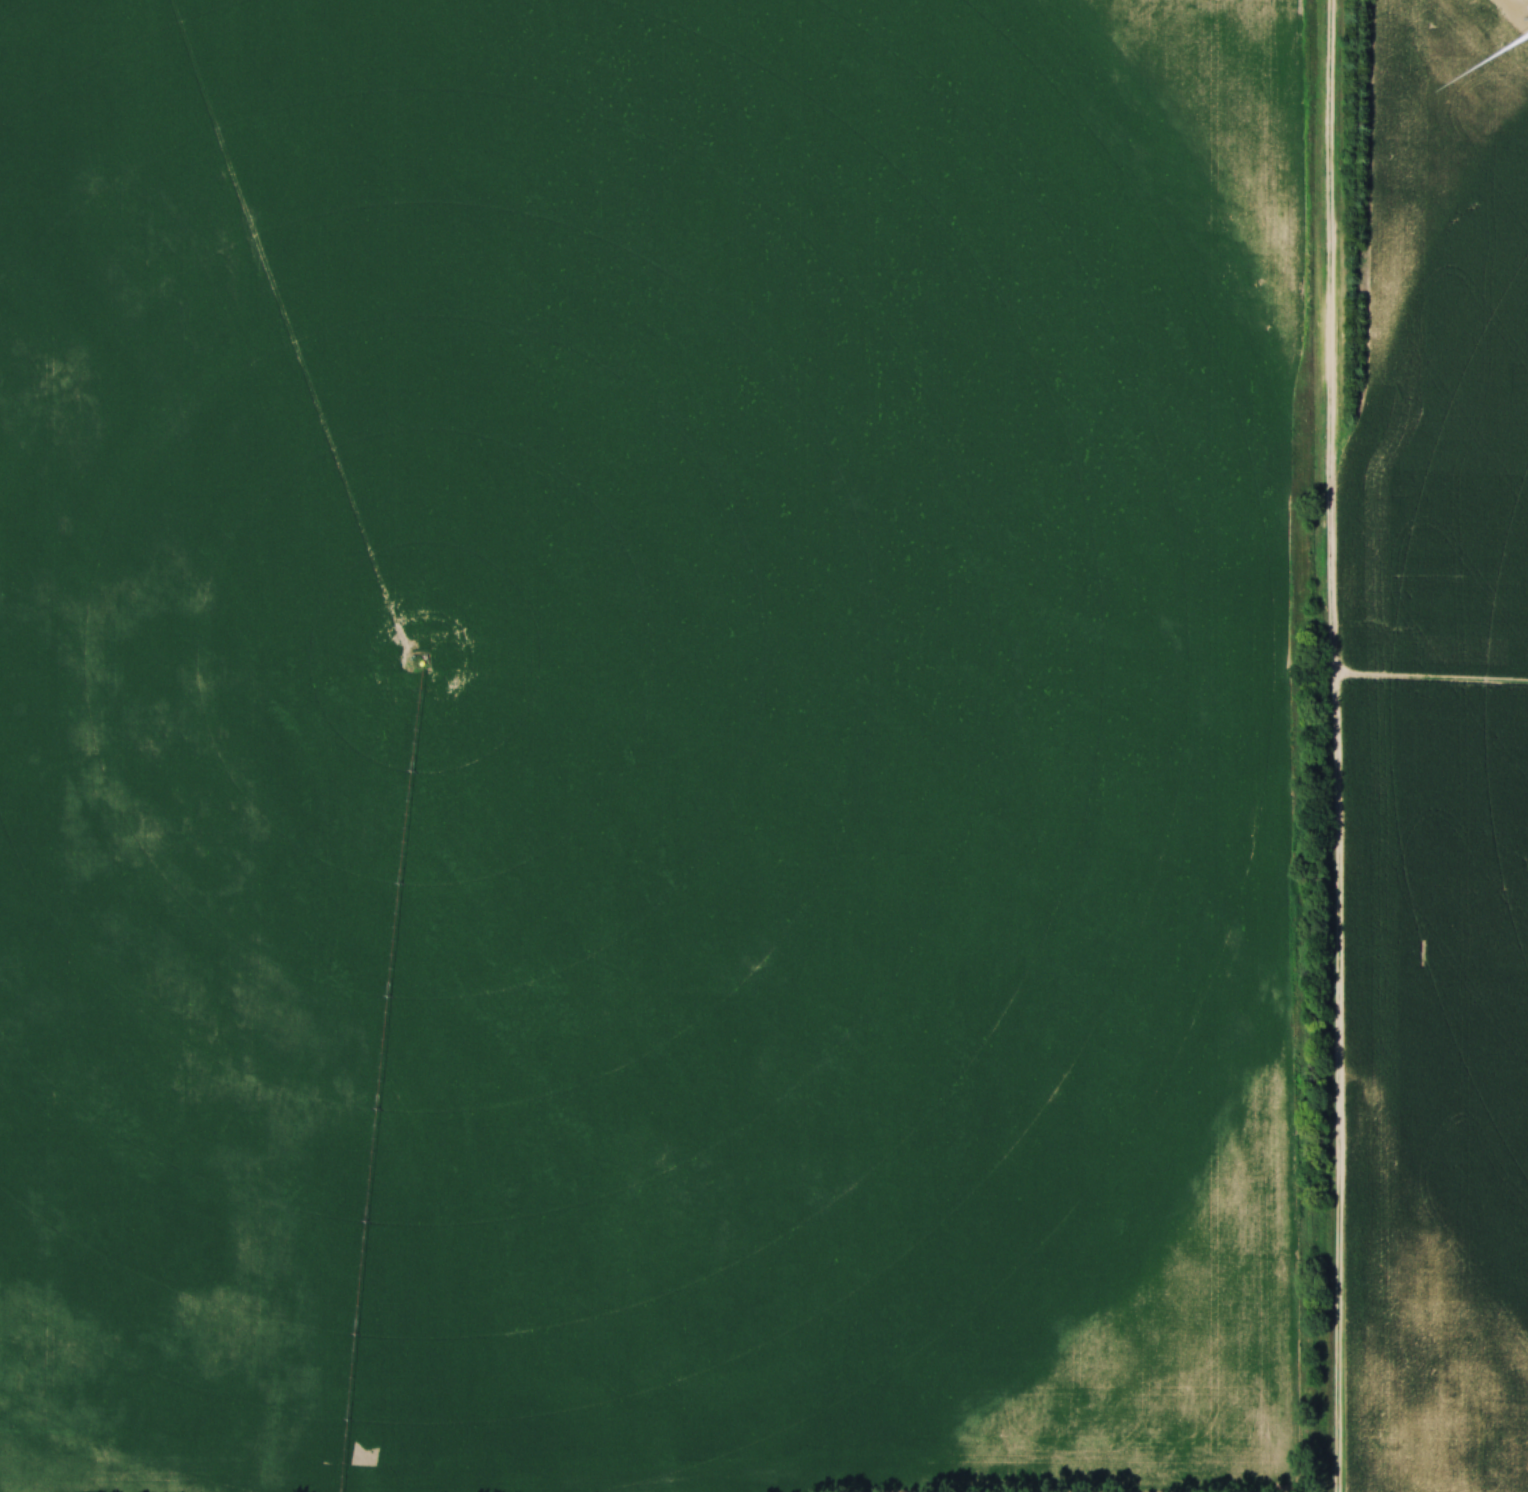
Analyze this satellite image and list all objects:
road: (1334, 746)

